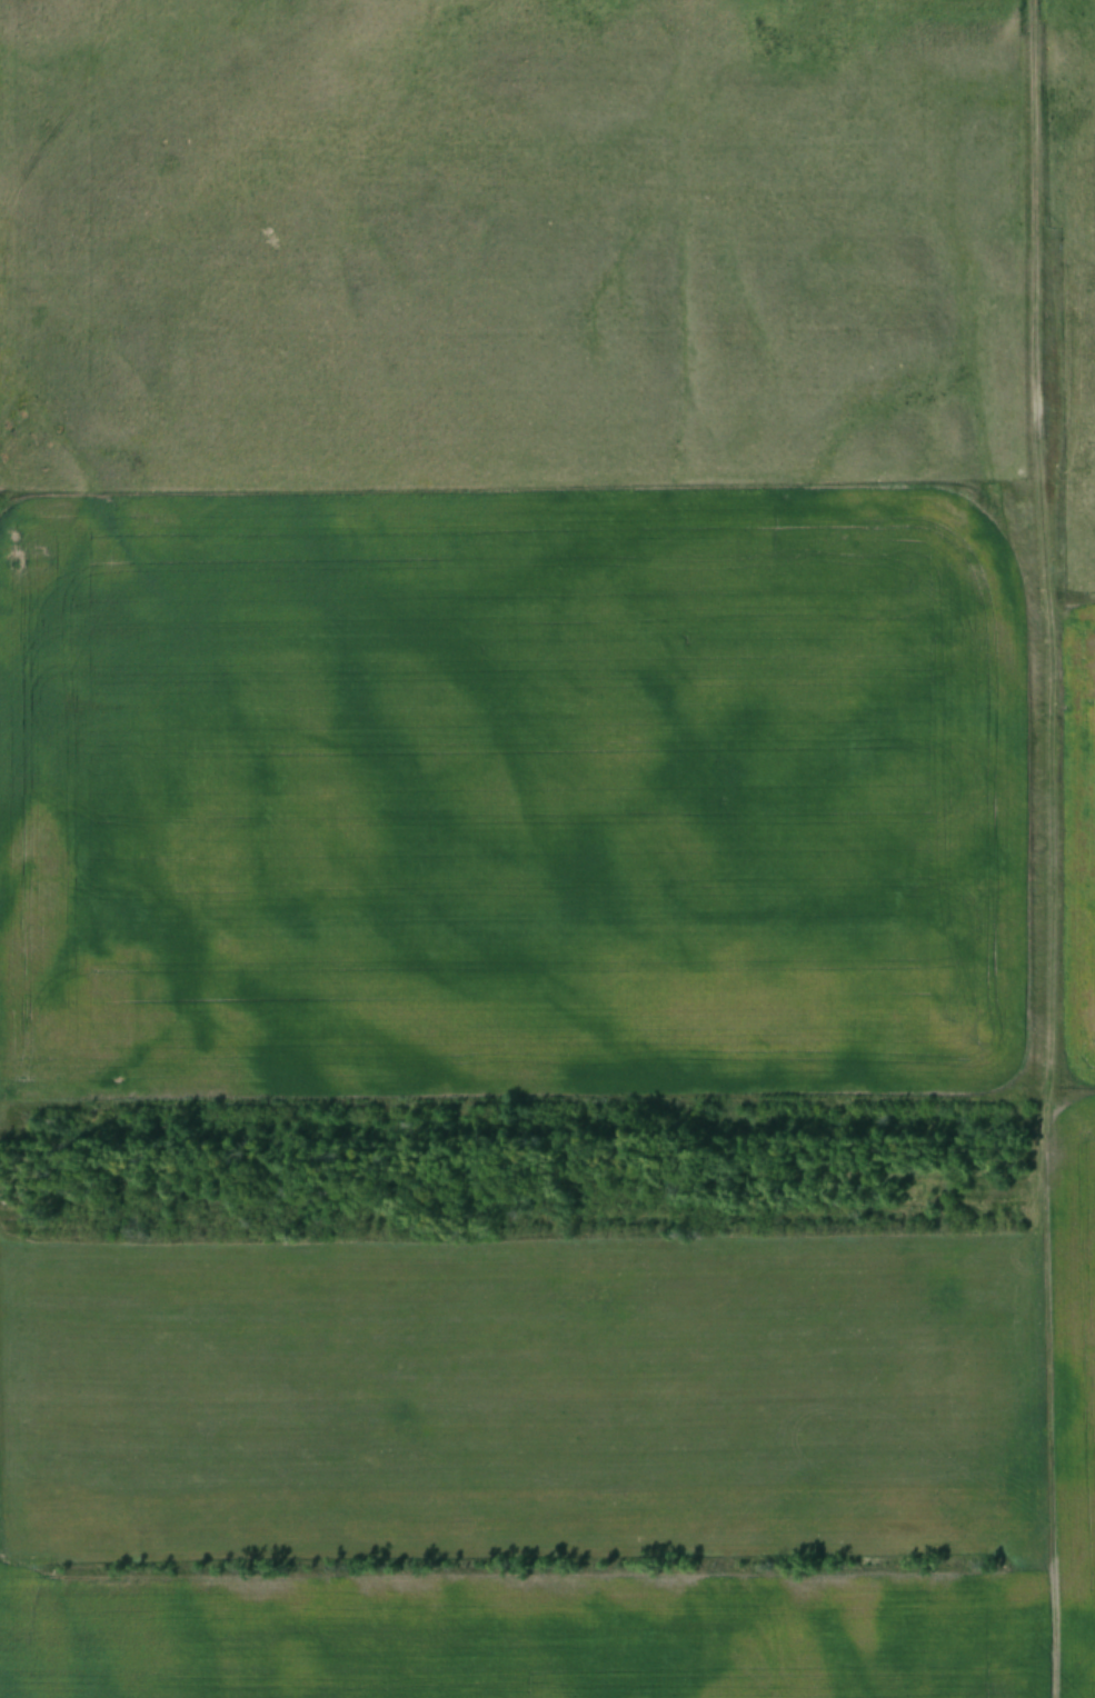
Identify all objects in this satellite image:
road: (1045, 848)

